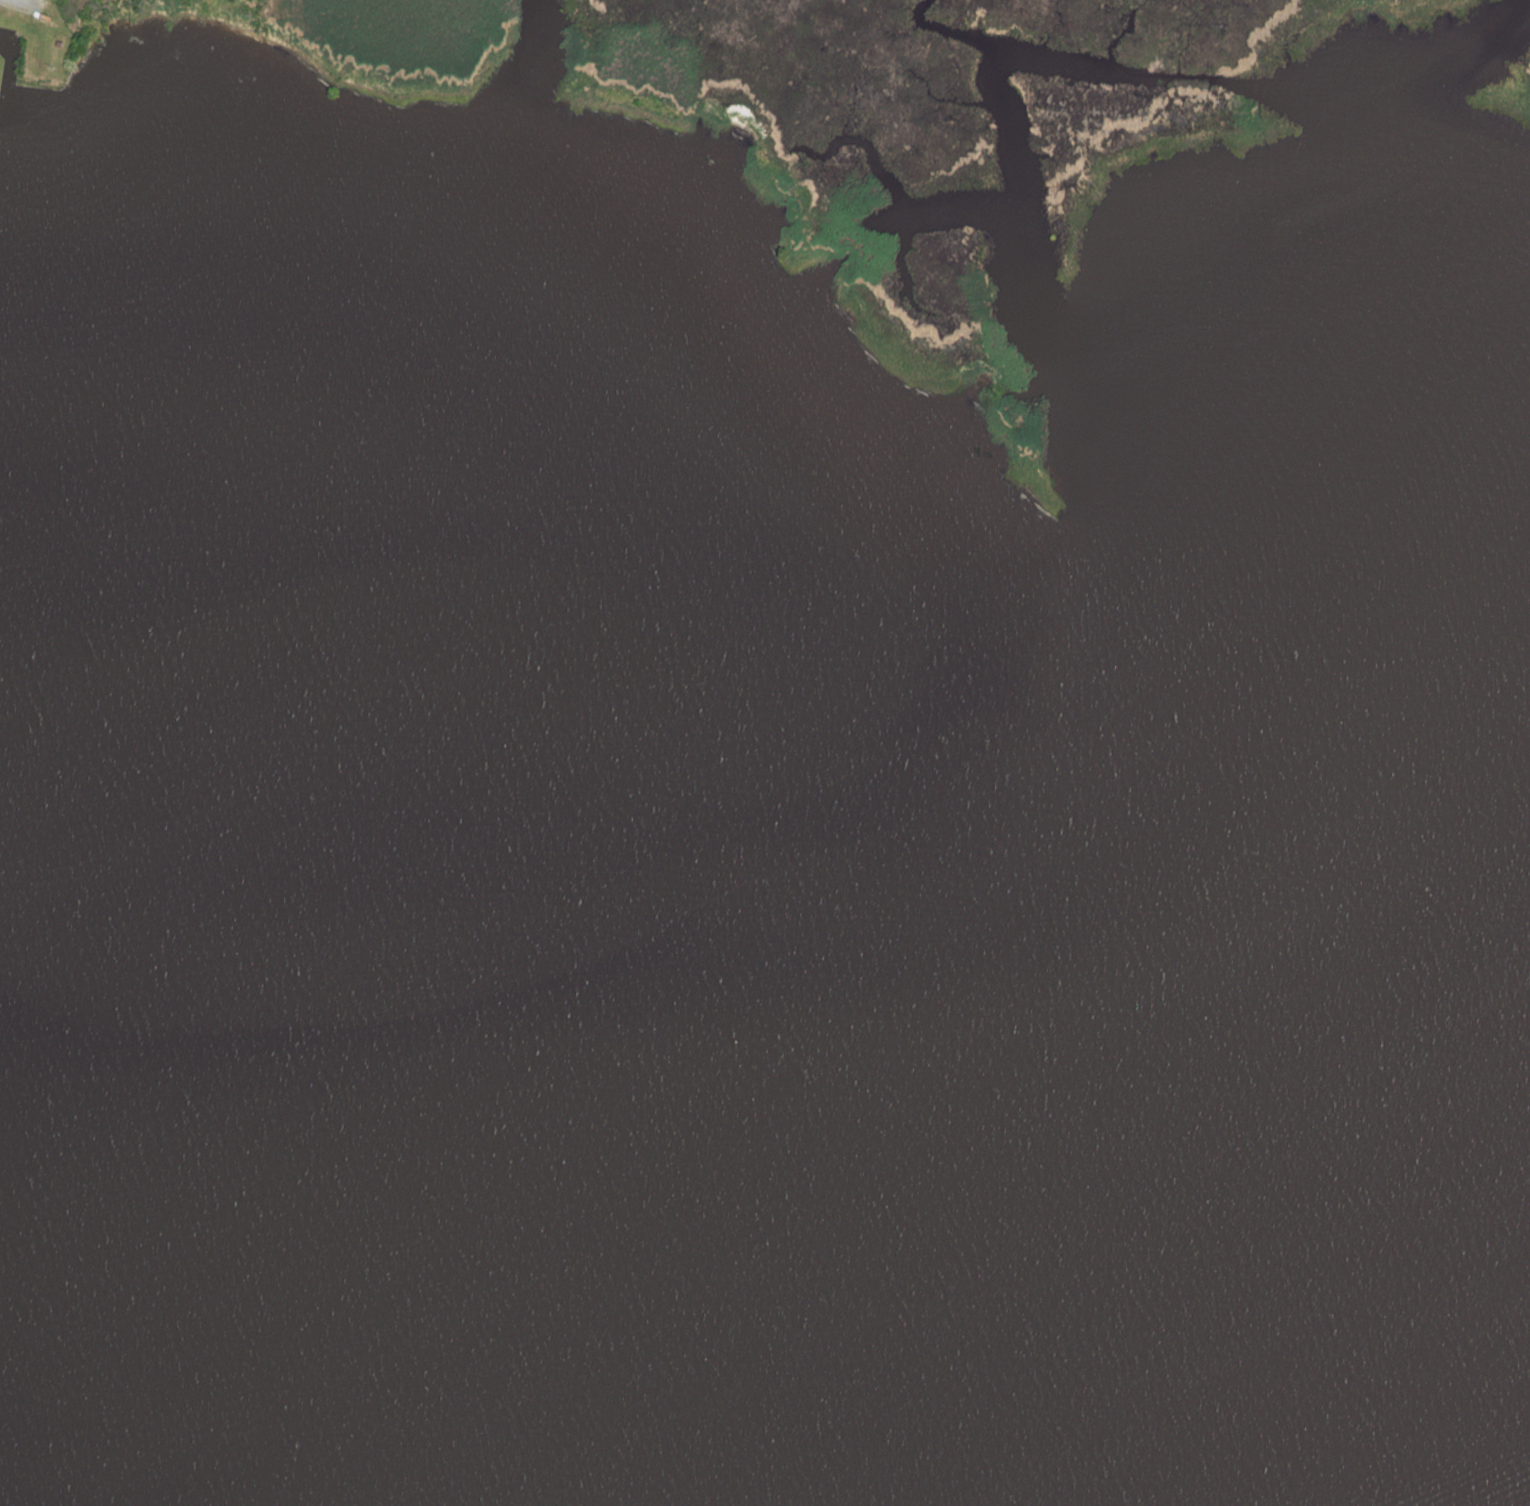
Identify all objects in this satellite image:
road: (33, 1)
parking lot: (23, 10)

